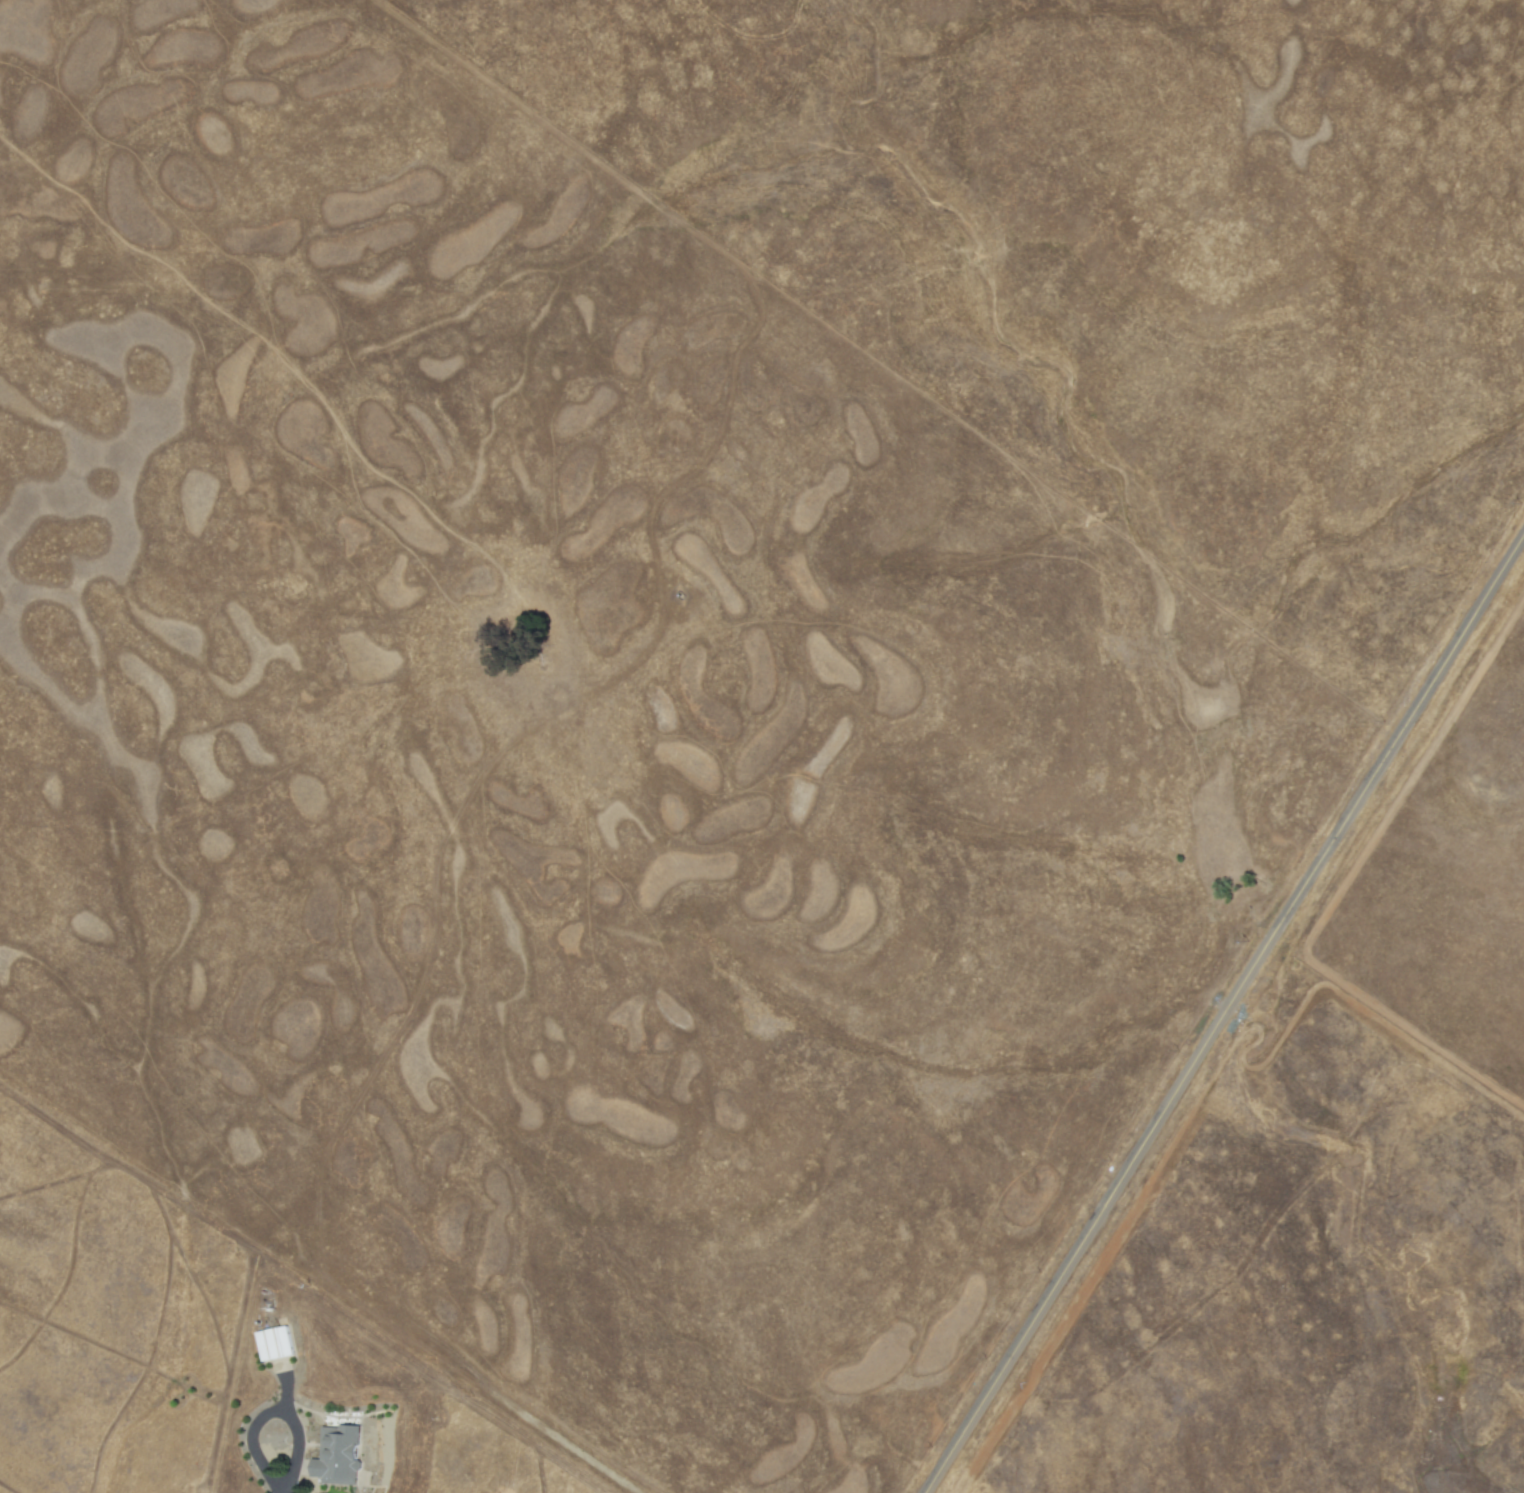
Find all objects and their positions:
road: (1225, 1015)
building: (273, 1343)

